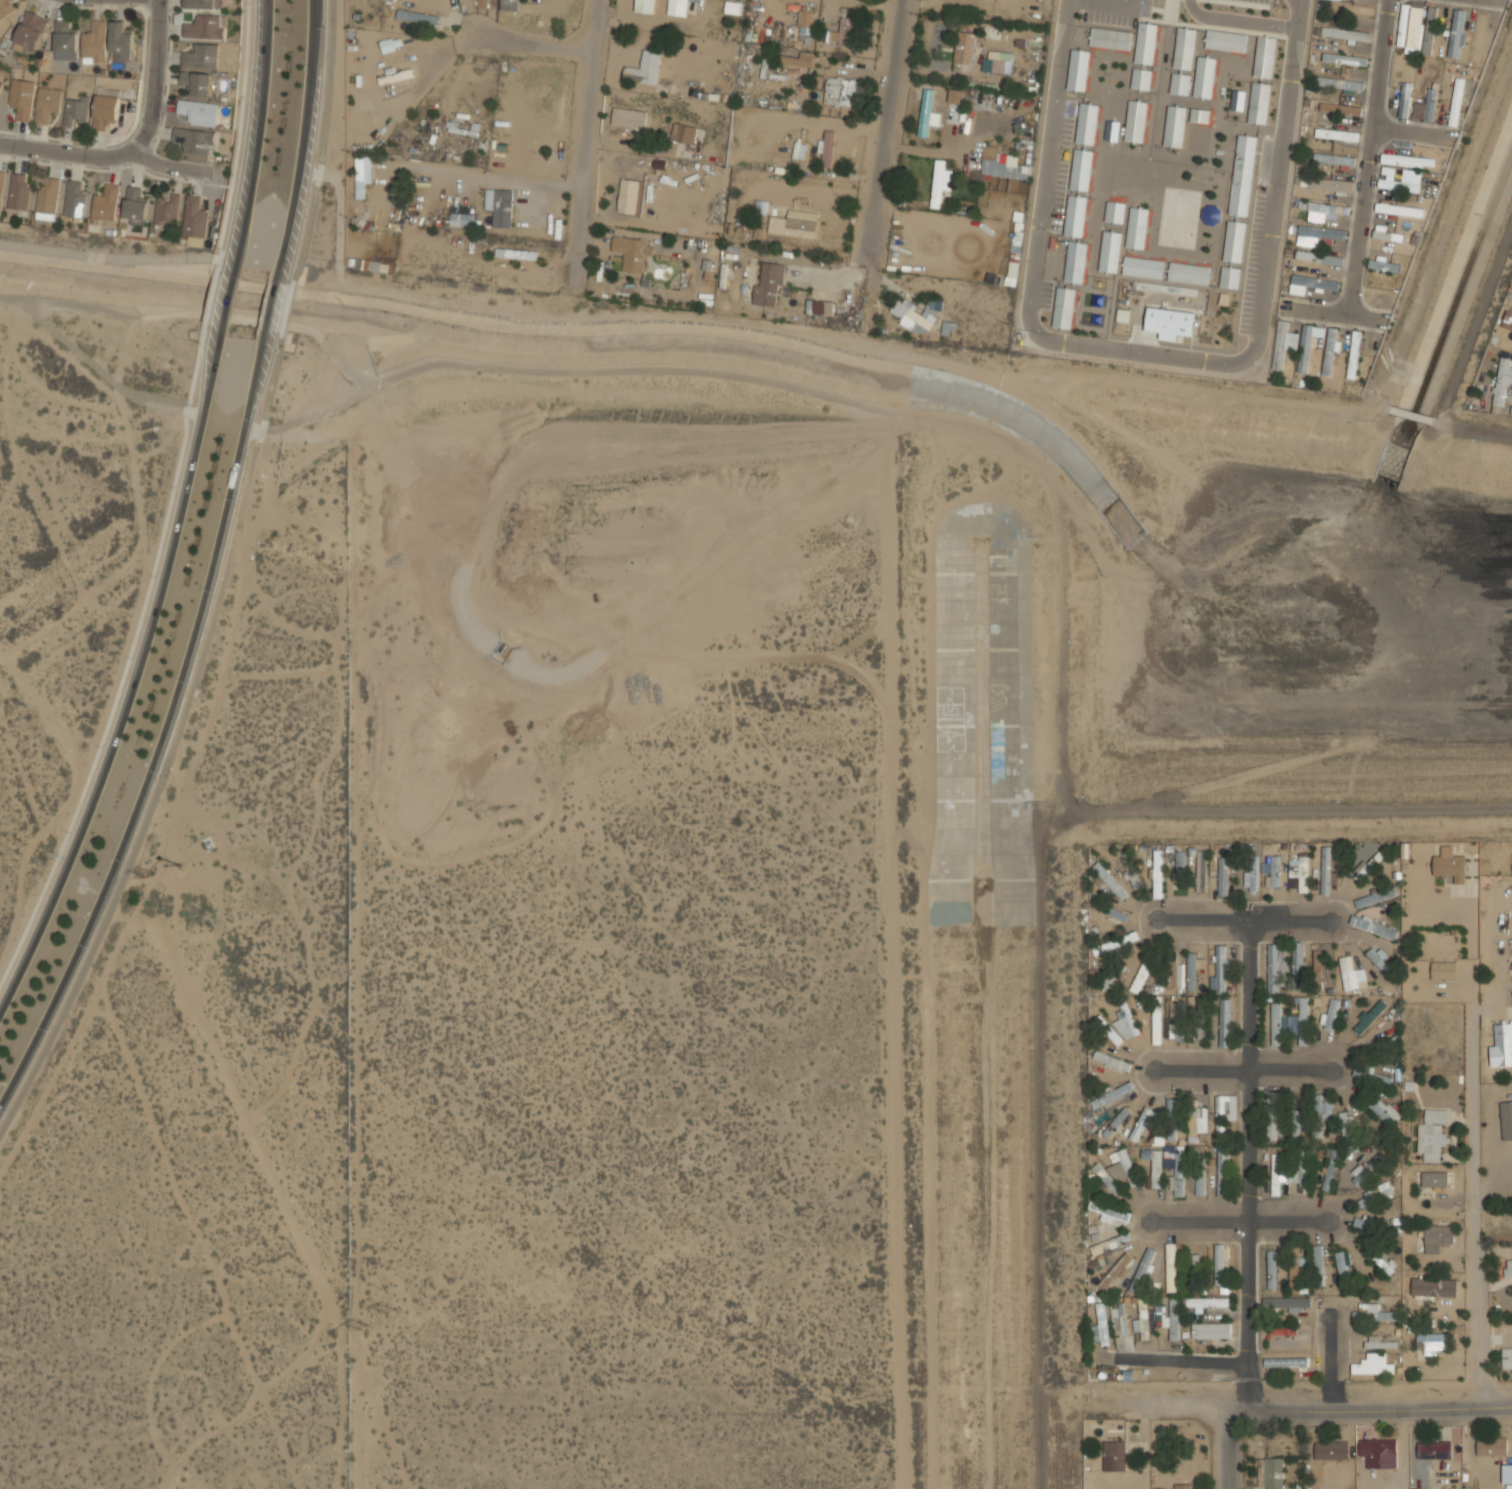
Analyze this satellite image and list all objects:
parking lot: (1257, 1)
road: (1107, 3)
building: (203, 4)
building: (510, 5)
building: (644, 6)
building: (679, 7)
building: (732, 7)
building: (5, 8)
building: (1352, 9)
parking lot: (1115, 11)
road: (1298, 14)
building: (418, 16)
building: (806, 19)
road: (1238, 20)
building: (1410, 26)
building: (204, 27)
building: (844, 30)
building: (1430, 30)
building: (30, 31)
building: (1456, 33)
building: (1345, 34)
building: (1479, 36)
building: (63, 37)
building: (1111, 39)
road: (532, 41)
building: (1226, 41)
building: (120, 42)
building: (94, 43)
building: (1146, 43)
building: (390, 44)
building: (964, 47)
building: (1184, 48)
building: (201, 56)
building: (1264, 57)
building: (795, 59)
building: (1344, 59)
building: (996, 63)
building: (644, 69)
building: (1078, 70)
building: (1204, 77)
building: (1141, 79)
road: (152, 81)
building: (196, 82)
building: (0, 83)
building: (1180, 84)
building: (1339, 84)
building: (840, 92)
building: (955, 94)
building: (21, 98)
building: (1238, 100)
building: (1405, 100)
building: (1457, 102)
building: (1259, 103)
building: (47, 104)
building: (1426, 106)
building: (1340, 108)
building: (76, 111)
building: (105, 111)
building: (199, 112)
building: (927, 113)
building: (1199, 115)
building: (630, 117)
road: (886, 121)
building: (1135, 121)
building: (542, 123)
building: (1087, 124)
building: (1174, 126)
building: (1112, 131)
building: (685, 133)
road: (257, 138)
building: (196, 140)
road: (584, 140)
road: (302, 141)
road: (321, 143)
building: (1338, 147)
building: (827, 149)
building: (799, 150)
road: (95, 152)
road: (1369, 158)
building: (1402, 160)
parking lot: (1061, 164)
building: (1002, 165)
building: (1081, 170)
building: (361, 175)
building: (1243, 175)
building: (940, 182)
building: (1409, 183)
building: (1331, 184)
road: (1277, 186)
building: (1, 187)
building: (18, 192)
building: (627, 196)
building: (652, 198)
building: (75, 199)
building: (47, 200)
building: (105, 204)
building: (135, 206)
building: (500, 206)
building: (1399, 210)
building: (167, 211)
building: (1324, 211)
building: (1115, 212)
building: (1210, 214)
building: (1075, 216)
park: (1178, 218)
building: (195, 219)
building: (461, 220)
building: (794, 224)
building: (1137, 228)
building: (1319, 234)
building: (1388, 234)
building: (1234, 241)
building: (1110, 251)
building: (517, 253)
building: (632, 253)
building: (1319, 257)
parking lot: (1253, 261)
building: (1076, 262)
building: (1384, 265)
building: (1143, 267)
building: (1012, 271)
building: (1189, 273)
building: (1230, 277)
road: (1031, 282)
building: (1311, 283)
building: (768, 285)
parking lot: (1044, 293)
road: (227, 300)
road: (268, 306)
building: (820, 307)
building: (1064, 307)
road: (287, 309)
road: (196, 314)
building: (913, 316)
building: (1507, 321)
building: (1170, 323)
road: (805, 334)
building: (1283, 344)
building: (1305, 347)
building: (1330, 351)
building: (1354, 355)
road: (103, 371)
road: (569, 371)
building: (1501, 382)
road: (1410, 413)
road: (1471, 428)
dam: (1484, 439)
power tower: (60, 612)
power tower: (33, 631)
road: (135, 677)
road: (871, 682)
road: (163, 730)
road: (173, 744)
dam: (1304, 803)
power tower: (175, 857)
building: (1369, 864)
building: (1449, 865)
building: (1179, 869)
building: (1200, 871)
building: (1326, 871)
power tower: (147, 872)
building: (1130, 872)
building: (1274, 872)
building: (1158, 874)
building: (1252, 874)
building: (1299, 875)
building: (1222, 876)
building: (1109, 880)
building: (1375, 897)
building: (1115, 912)
road: (1242, 921)
road: (1038, 924)
building: (1373, 928)
building: (1115, 944)
road: (1468, 947)
building: (1379, 960)
building: (1317, 962)
building: (1273, 968)
building: (1220, 970)
building: (1443, 970)
building: (1191, 972)
building: (1348, 974)
building: (1171, 975)
building: (1111, 977)
building: (1143, 978)
building: (1330, 1014)
building: (1369, 1016)
building: (1156, 1020)
building: (1220, 1021)
building: (1302, 1021)
building: (1177, 1022)
building: (1127, 1023)
building: (1276, 1024)
building: (1200, 1029)
building: (1107, 1030)
building: (1502, 1045)
building: (1111, 1061)
road: (1241, 1068)
building: (1372, 1077)
building: (1112, 1095)
building: (1117, 1103)
building: (1511, 1107)
building: (1381, 1110)
building: (1220, 1113)
building: (1317, 1115)
building: (1272, 1116)
building: (1172, 1119)
building: (1194, 1122)
building: (1116, 1123)
building: (1140, 1124)
building: (1296, 1125)
building: (1344, 1127)
building: (1431, 1137)
building: (1154, 1165)
road: (1249, 1165)
building: (1176, 1168)
building: (1124, 1170)
building: (1301, 1170)
building: (1329, 1170)
building: (1222, 1172)
building: (1360, 1173)
building: (1276, 1175)
building: (1200, 1176)
building: (1106, 1178)
building: (1435, 1179)
road: (1476, 1206)
building: (1110, 1213)
road: (1237, 1220)
building: (1362, 1224)
building: (1437, 1237)
building: (1110, 1244)
building: (1379, 1259)
building: (1220, 1265)
building: (1170, 1267)
building: (1343, 1267)
building: (1508, 1268)
building: (1294, 1269)
building: (1318, 1269)
building: (1142, 1270)
building: (1194, 1270)
building: (1271, 1270)
building: (1115, 1272)
building: (1434, 1288)
building: (1207, 1303)
building: (1286, 1304)
power tower: (390, 1309)
building: (1372, 1314)
building: (1169, 1317)
building: (1142, 1319)
building: (1121, 1320)
power tower: (363, 1326)
building: (1100, 1328)
building: (1289, 1329)
building: (1211, 1331)
building: (1381, 1342)
building: (1431, 1342)
road: (1181, 1360)
road: (1331, 1360)
building: (1507, 1360)
building: (1285, 1362)
building: (1373, 1368)
road: (1303, 1410)
building: (1492, 1446)
building: (1381, 1447)
road: (1226, 1449)
building: (1331, 1450)
building: (1432, 1453)
building: (1114, 1456)
building: (1271, 1473)
building: (1507, 1474)
building: (1183, 1486)
building: (1164, 1488)

